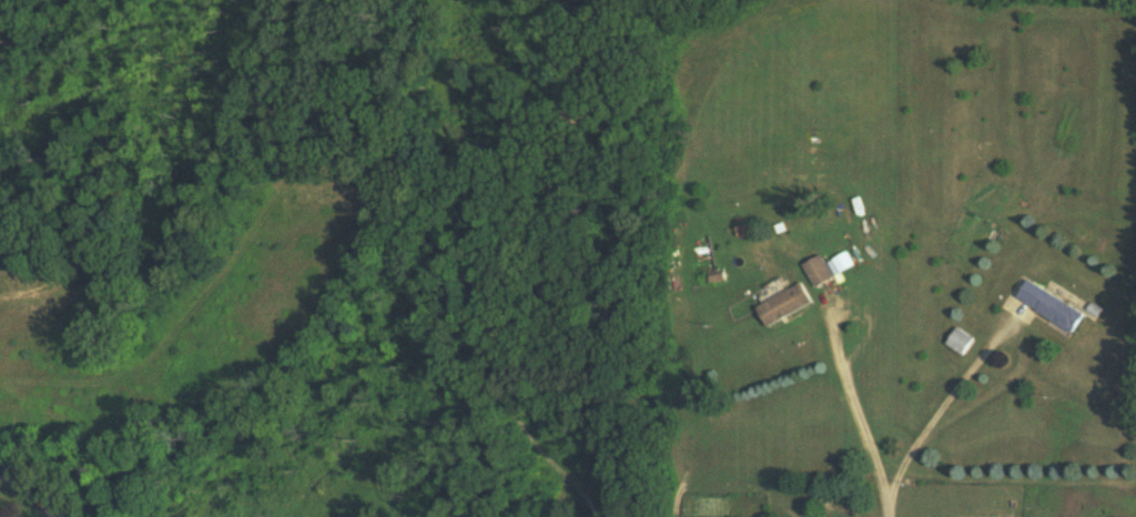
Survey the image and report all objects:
building: (815, 271)
building: (783, 304)
building: (1048, 305)
building: (957, 341)
road: (943, 405)
road: (858, 408)
road: (27, 490)
road: (889, 509)

